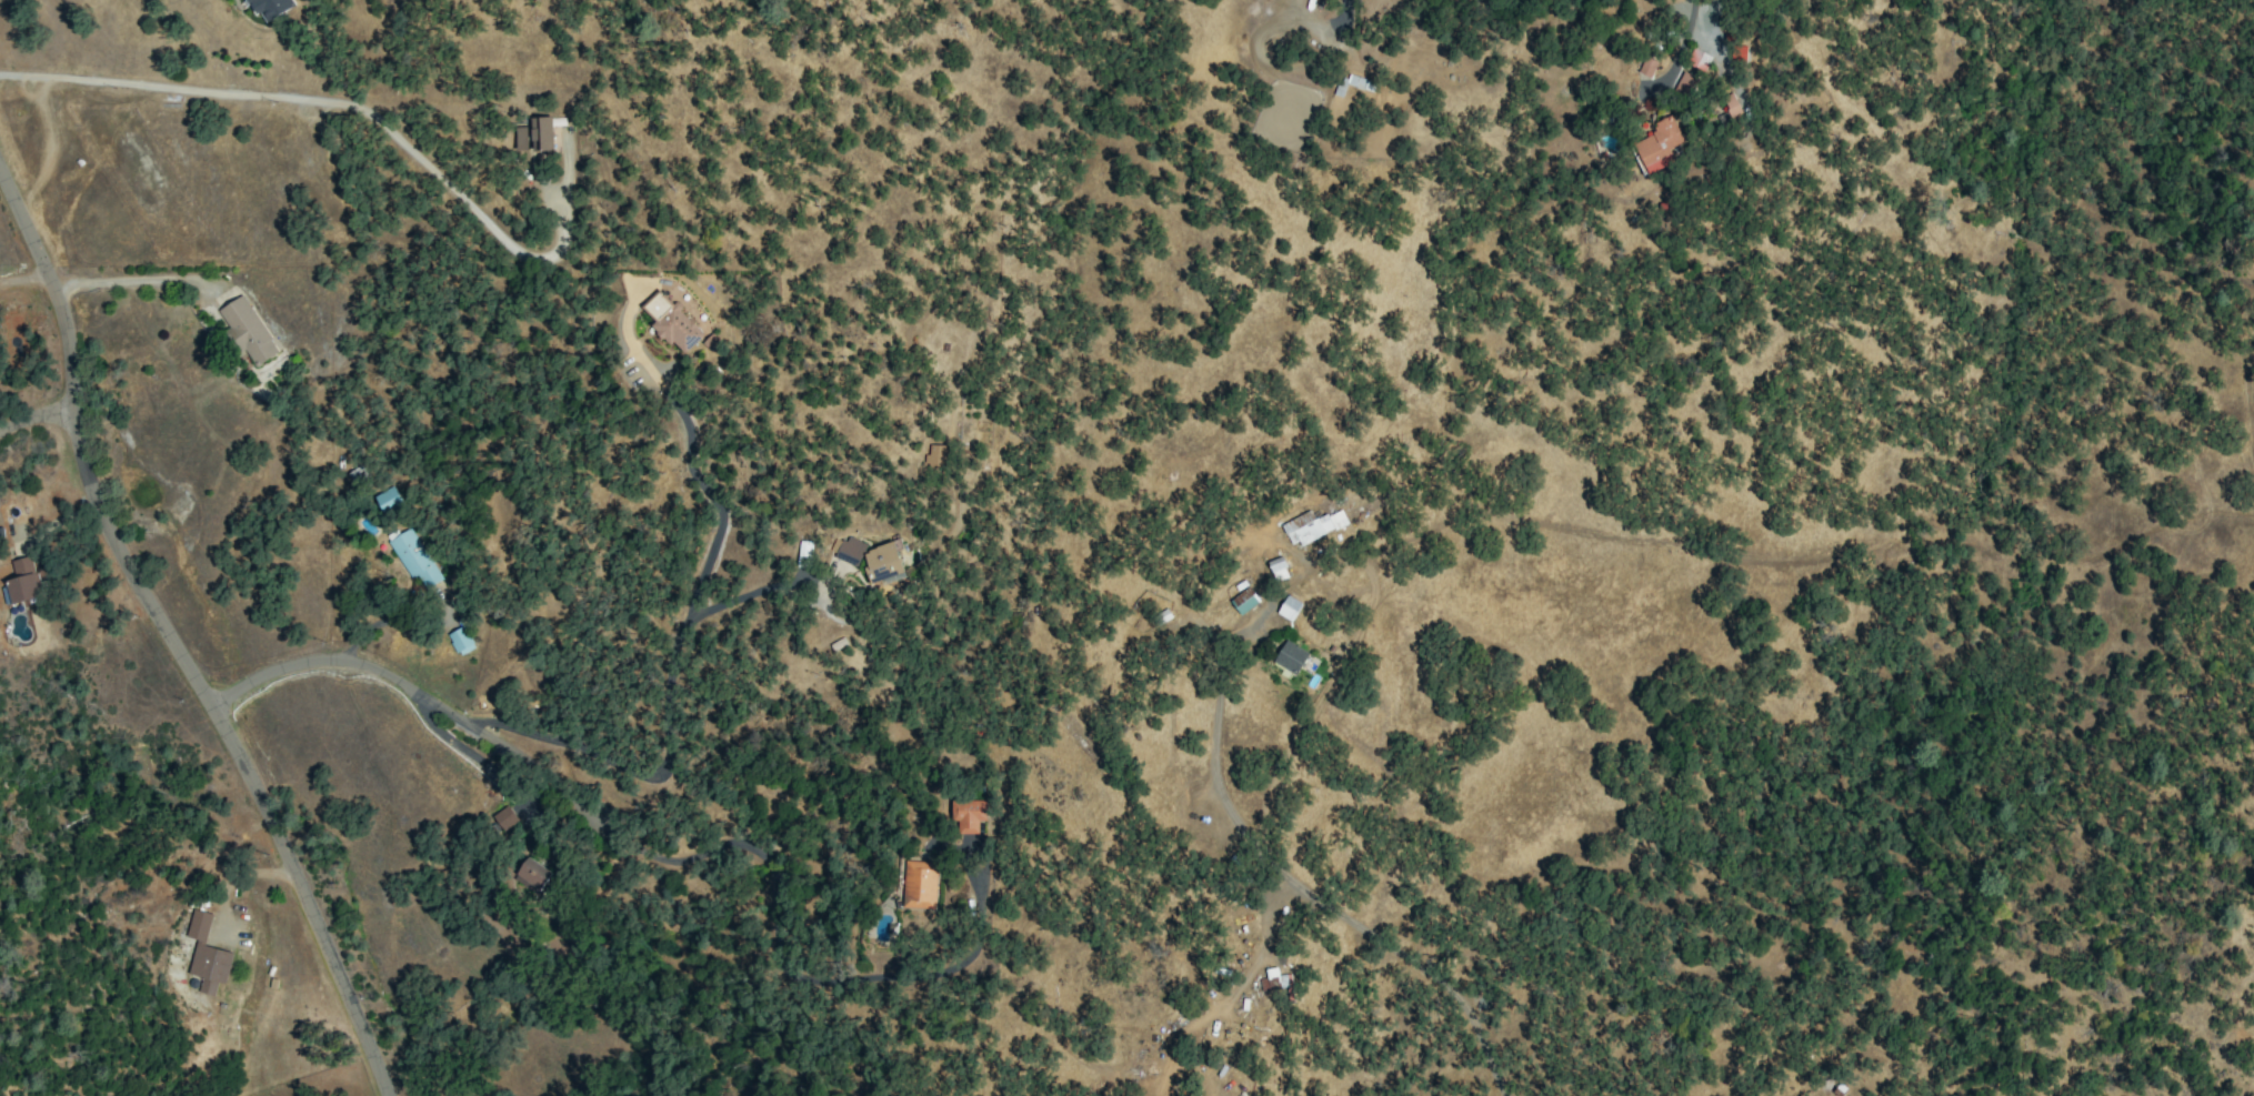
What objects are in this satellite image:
building: (269, 8)
road: (1340, 18)
road: (1693, 22)
building: (1697, 60)
building: (1352, 83)
building: (1683, 83)
road: (343, 103)
building: (541, 133)
building: (521, 139)
building: (1660, 145)
road: (26, 279)
road: (128, 280)
building: (671, 322)
building: (248, 331)
road: (36, 415)
building: (934, 457)
building: (385, 500)
building: (1314, 526)
building: (850, 551)
building: (413, 560)
building: (882, 563)
building: (23, 581)
road: (757, 592)
building: (1243, 601)
building: (1289, 609)
road: (688, 616)
building: (460, 641)
road: (171, 643)
building: (1290, 657)
road: (431, 704)
road: (1213, 736)
road: (469, 755)
building: (966, 814)
building: (504, 817)
building: (531, 876)
building: (918, 884)
road: (1383, 946)
building: (206, 955)
road: (778, 965)
building: (1276, 984)

